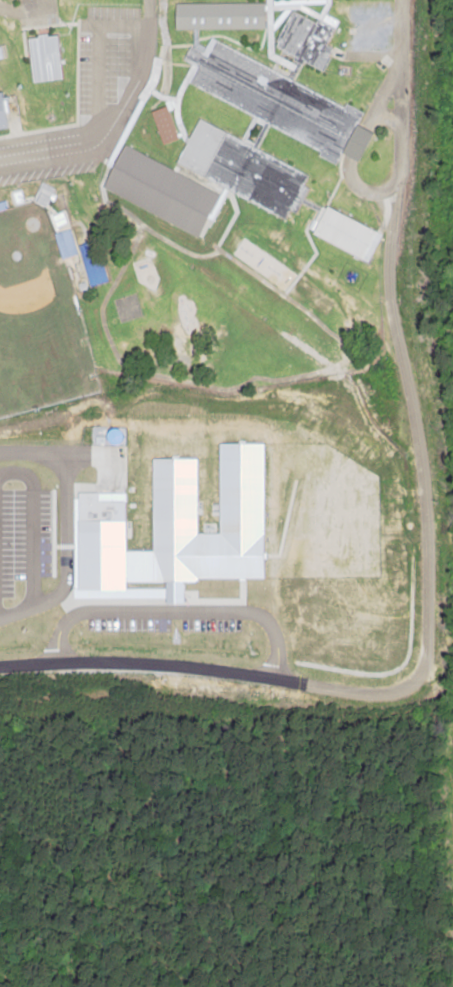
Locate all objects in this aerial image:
road: (25, 9)
building: (217, 15)
road: (122, 26)
building: (305, 35)
building: (42, 57)
road: (95, 81)
road: (116, 118)
building: (1, 119)
building: (163, 124)
building: (235, 143)
road: (347, 166)
building: (343, 233)
building: (64, 243)
building: (92, 269)
road: (39, 451)
building: (176, 525)
road: (425, 537)

